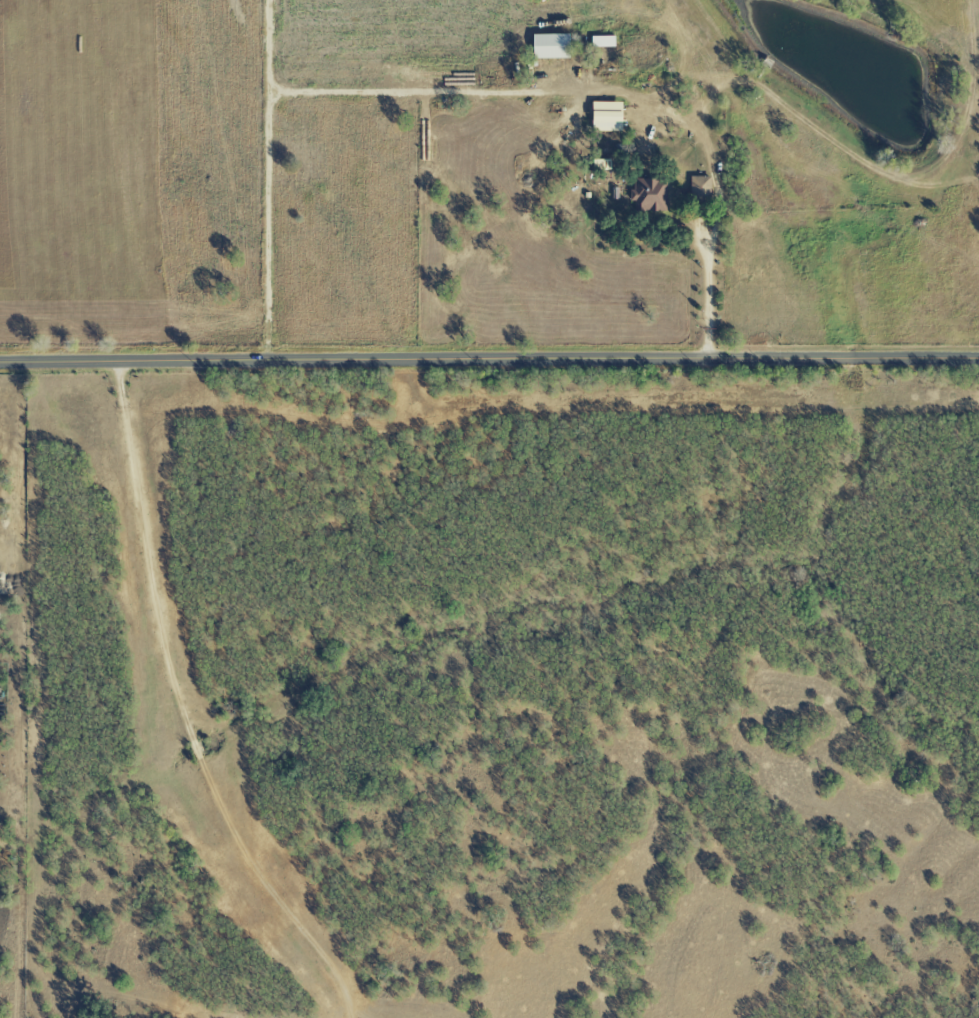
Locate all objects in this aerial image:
building: (602, 41)
building: (549, 46)
road: (520, 94)
building: (605, 117)
road: (272, 181)
building: (700, 187)
building: (648, 195)
road: (707, 270)
road: (489, 361)
road: (182, 709)

